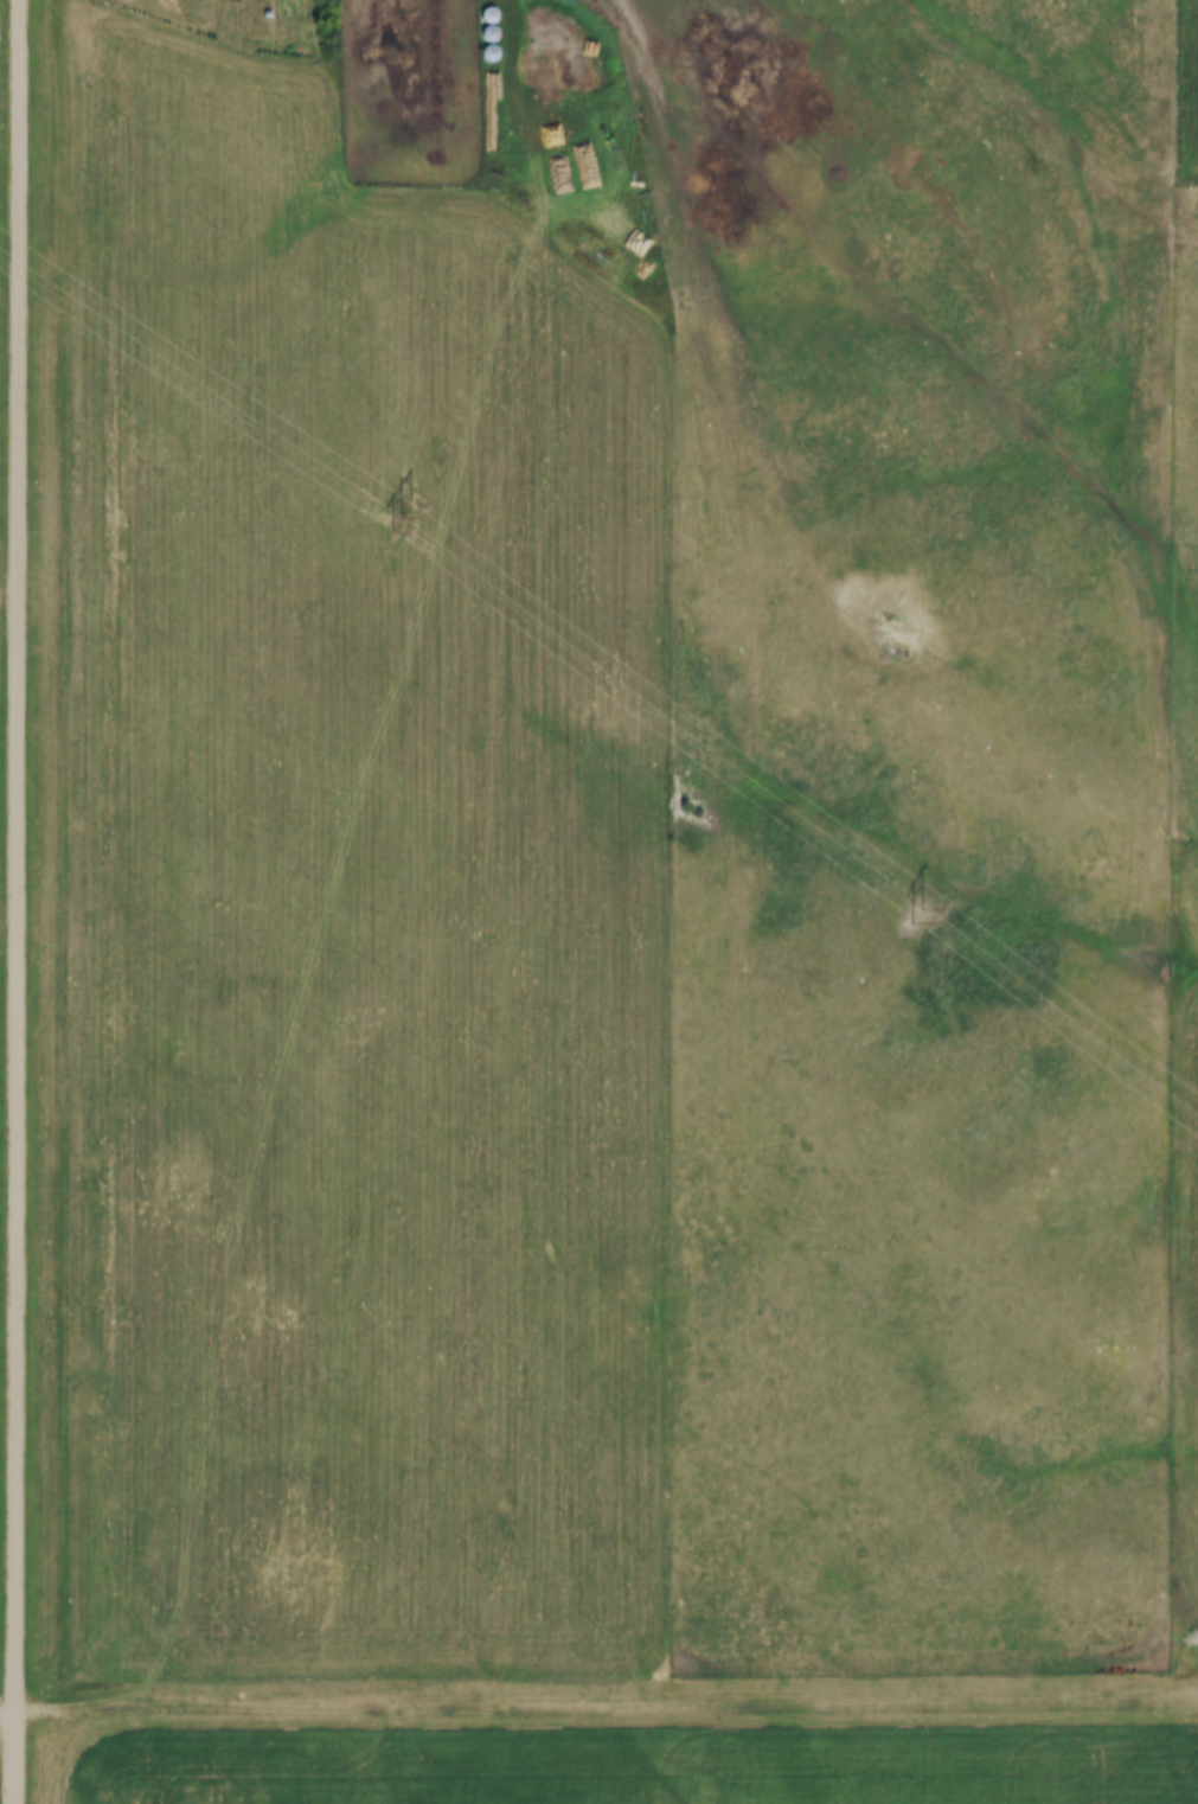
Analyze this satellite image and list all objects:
building: (487, 17)
building: (369, 45)
building: (588, 169)
power tower: (399, 518)
road: (15, 901)
power tower: (918, 916)
road: (598, 1714)

